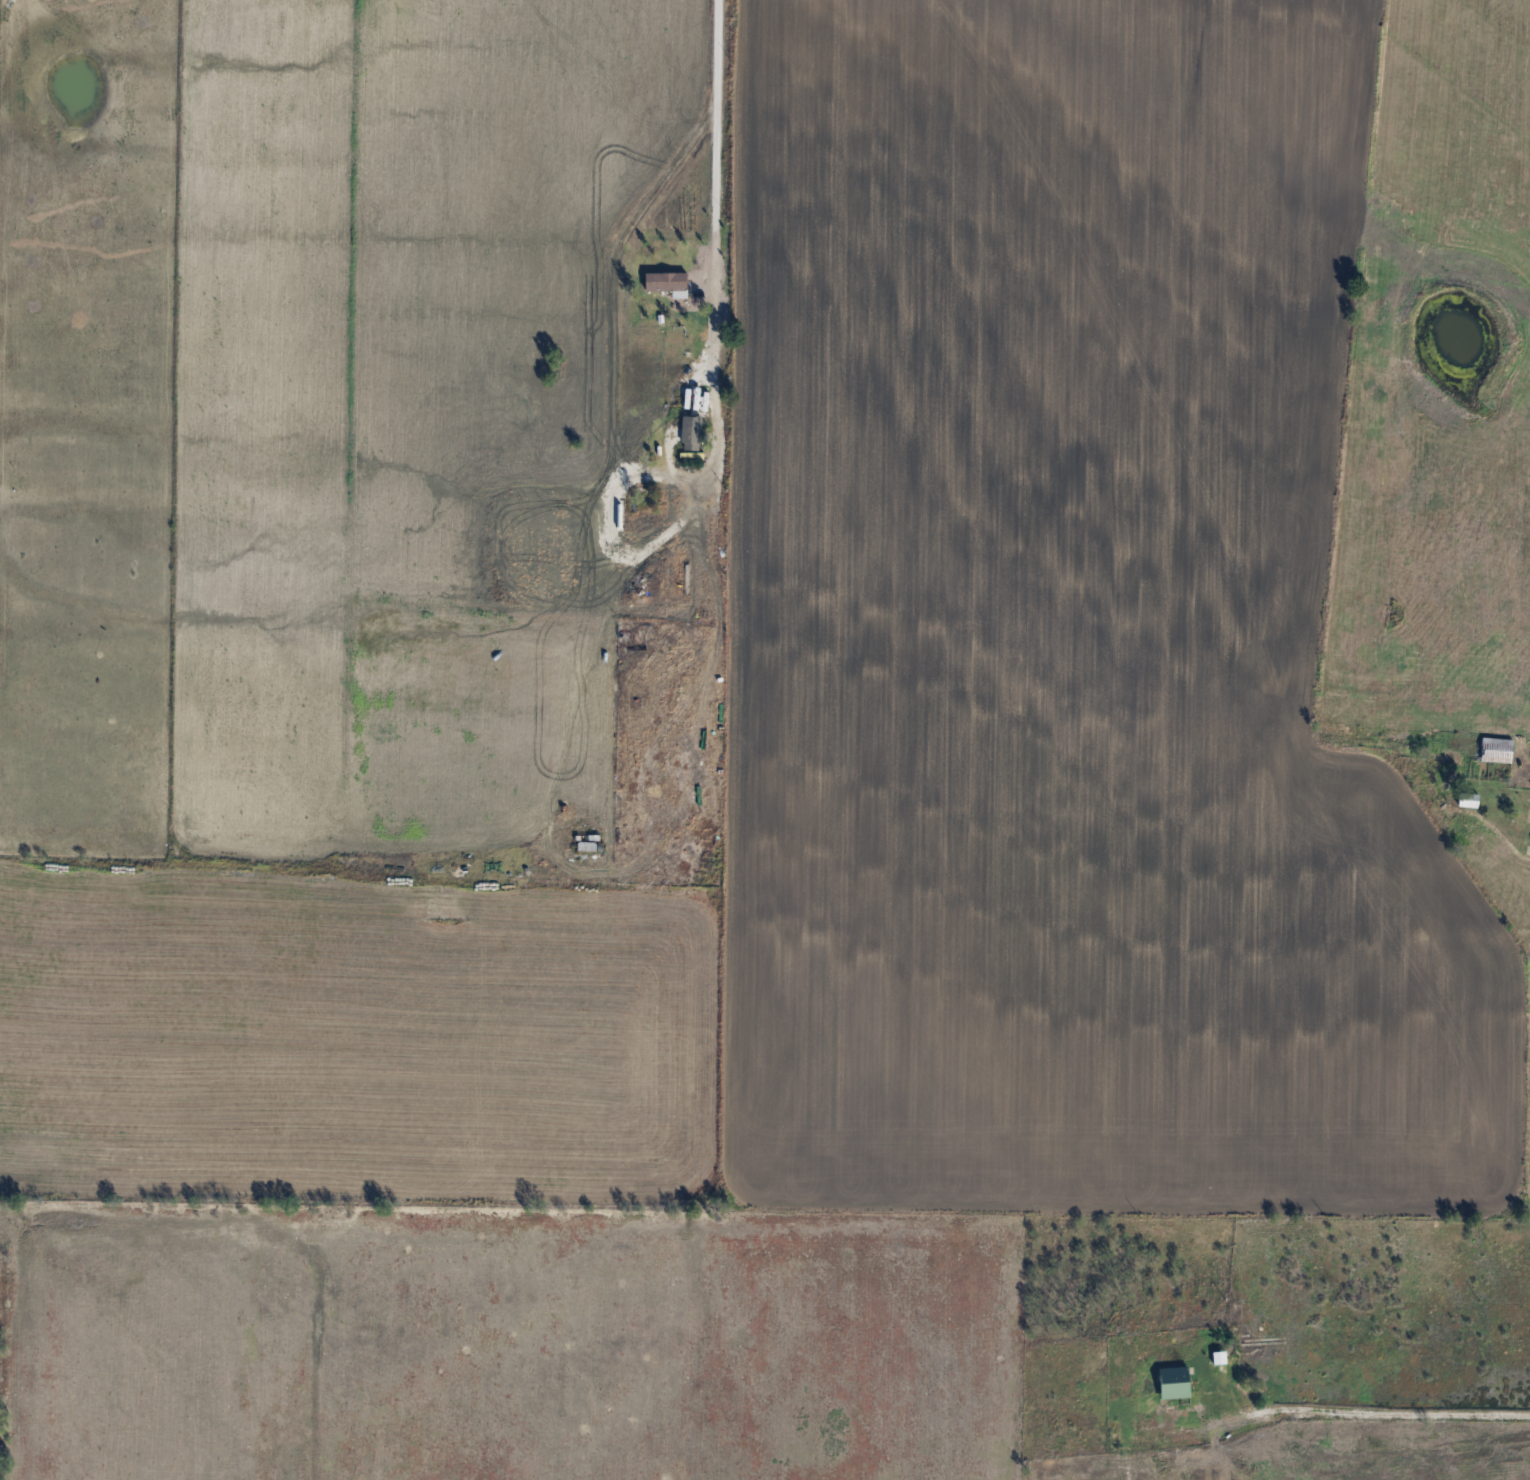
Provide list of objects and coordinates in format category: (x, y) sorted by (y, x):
road: (715, 190)
building: (664, 282)
building: (688, 433)
building: (666, 571)
building: (1494, 750)
building: (1172, 1383)
road: (1368, 1414)

